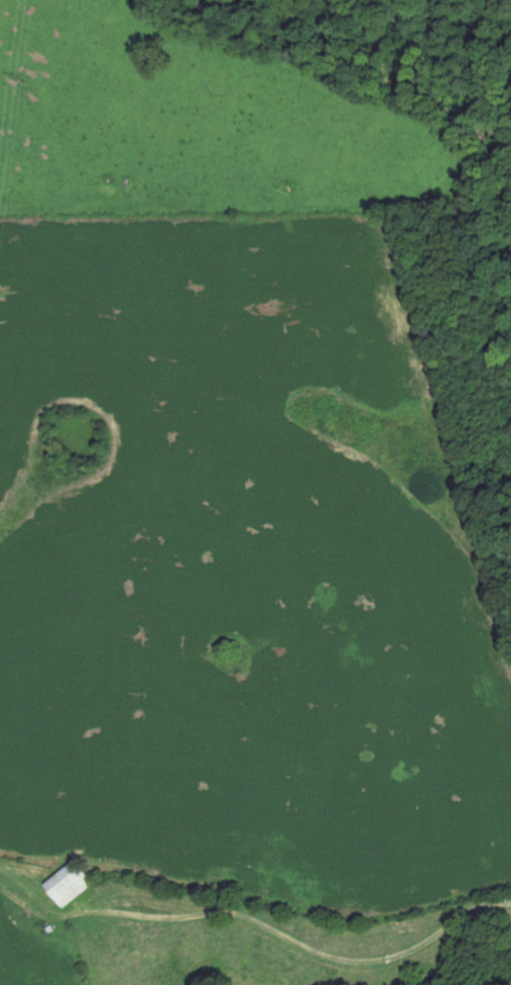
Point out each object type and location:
building: (71, 882)

